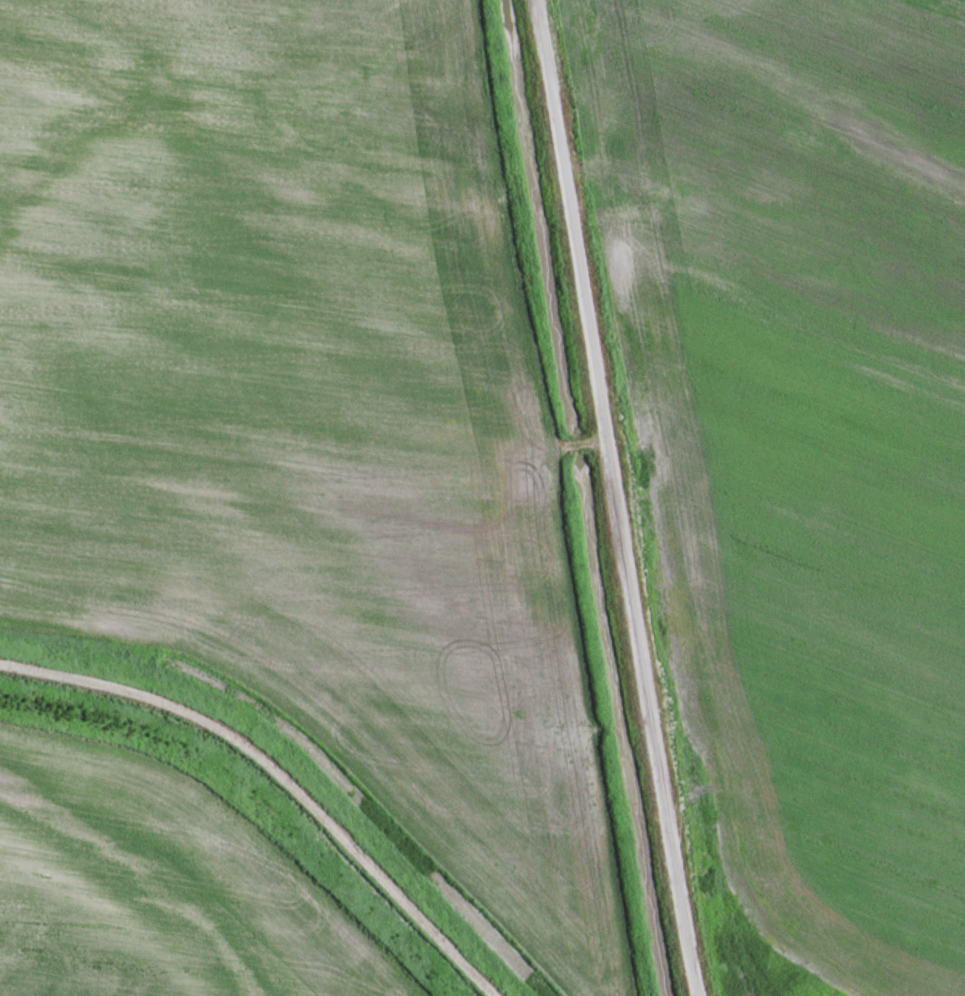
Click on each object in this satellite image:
road: (615, 498)

